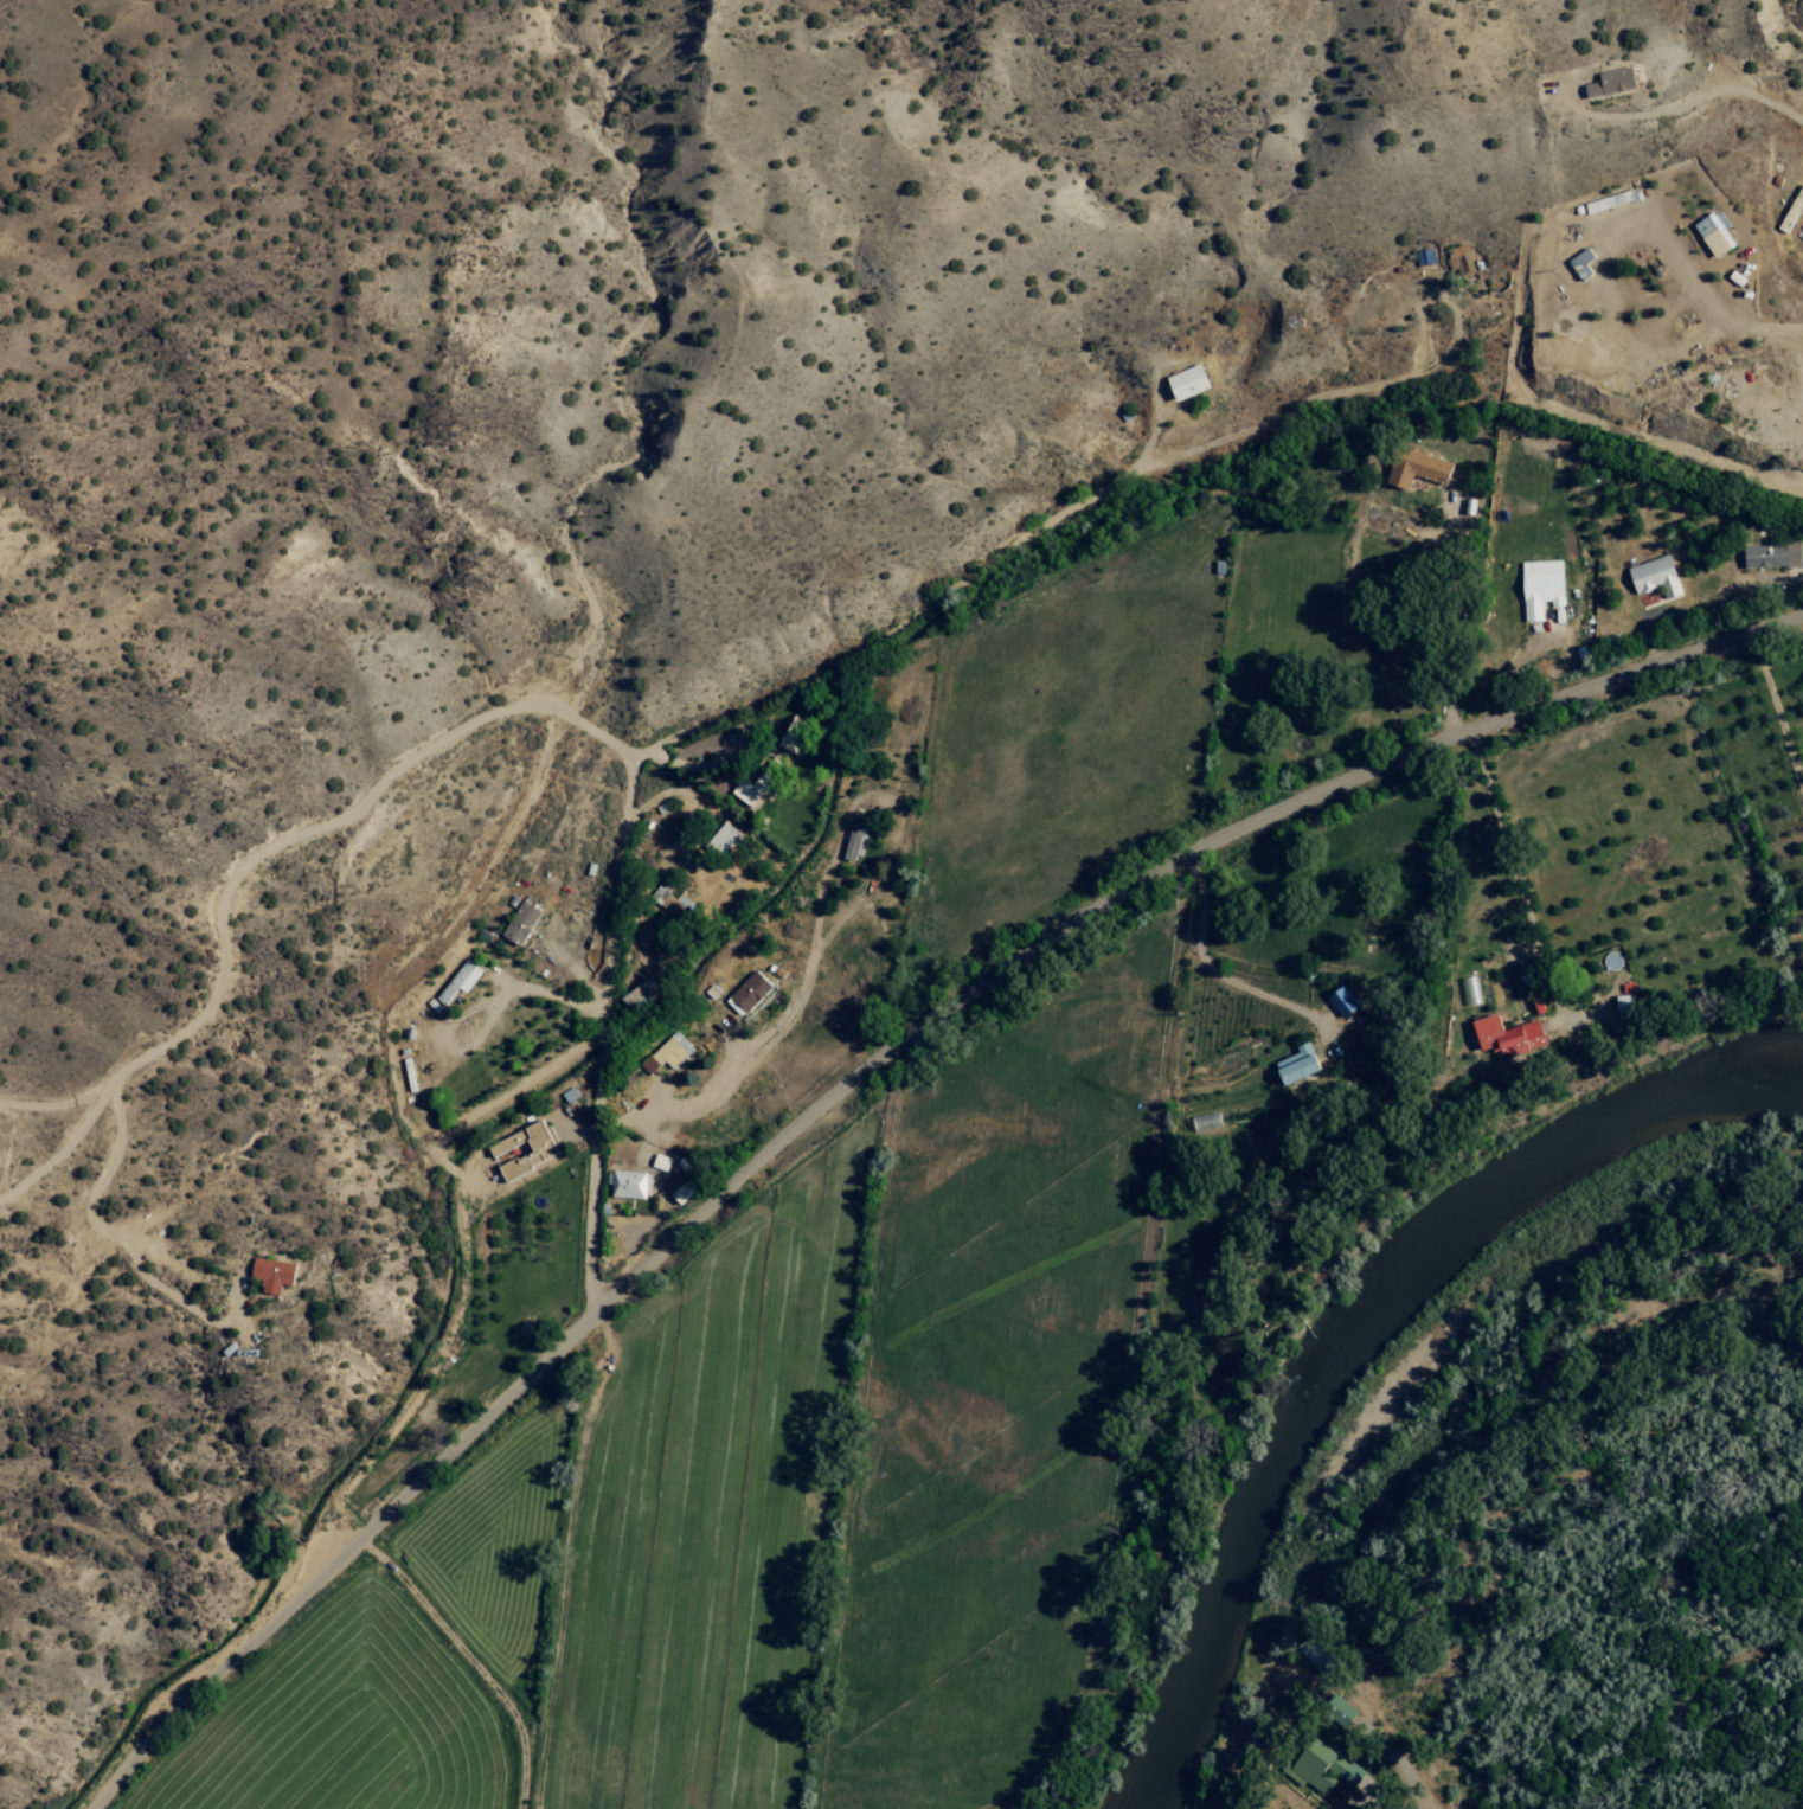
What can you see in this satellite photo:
building: (1789, 207)
building: (1706, 233)
building: (1196, 383)
building: (1423, 469)
building: (1766, 553)
building: (1650, 576)
building: (726, 841)
building: (525, 924)
road: (236, 928)
building: (461, 986)
building: (1468, 988)
building: (751, 995)
building: (1500, 1035)
building: (674, 1054)
road: (610, 1057)
building: (1288, 1064)
road: (855, 1073)
building: (531, 1153)
building: (633, 1186)
building: (278, 1277)
road: (168, 1301)
river: (1385, 1355)
road: (357, 1503)
building: (1333, 1708)
building: (1337, 1770)

